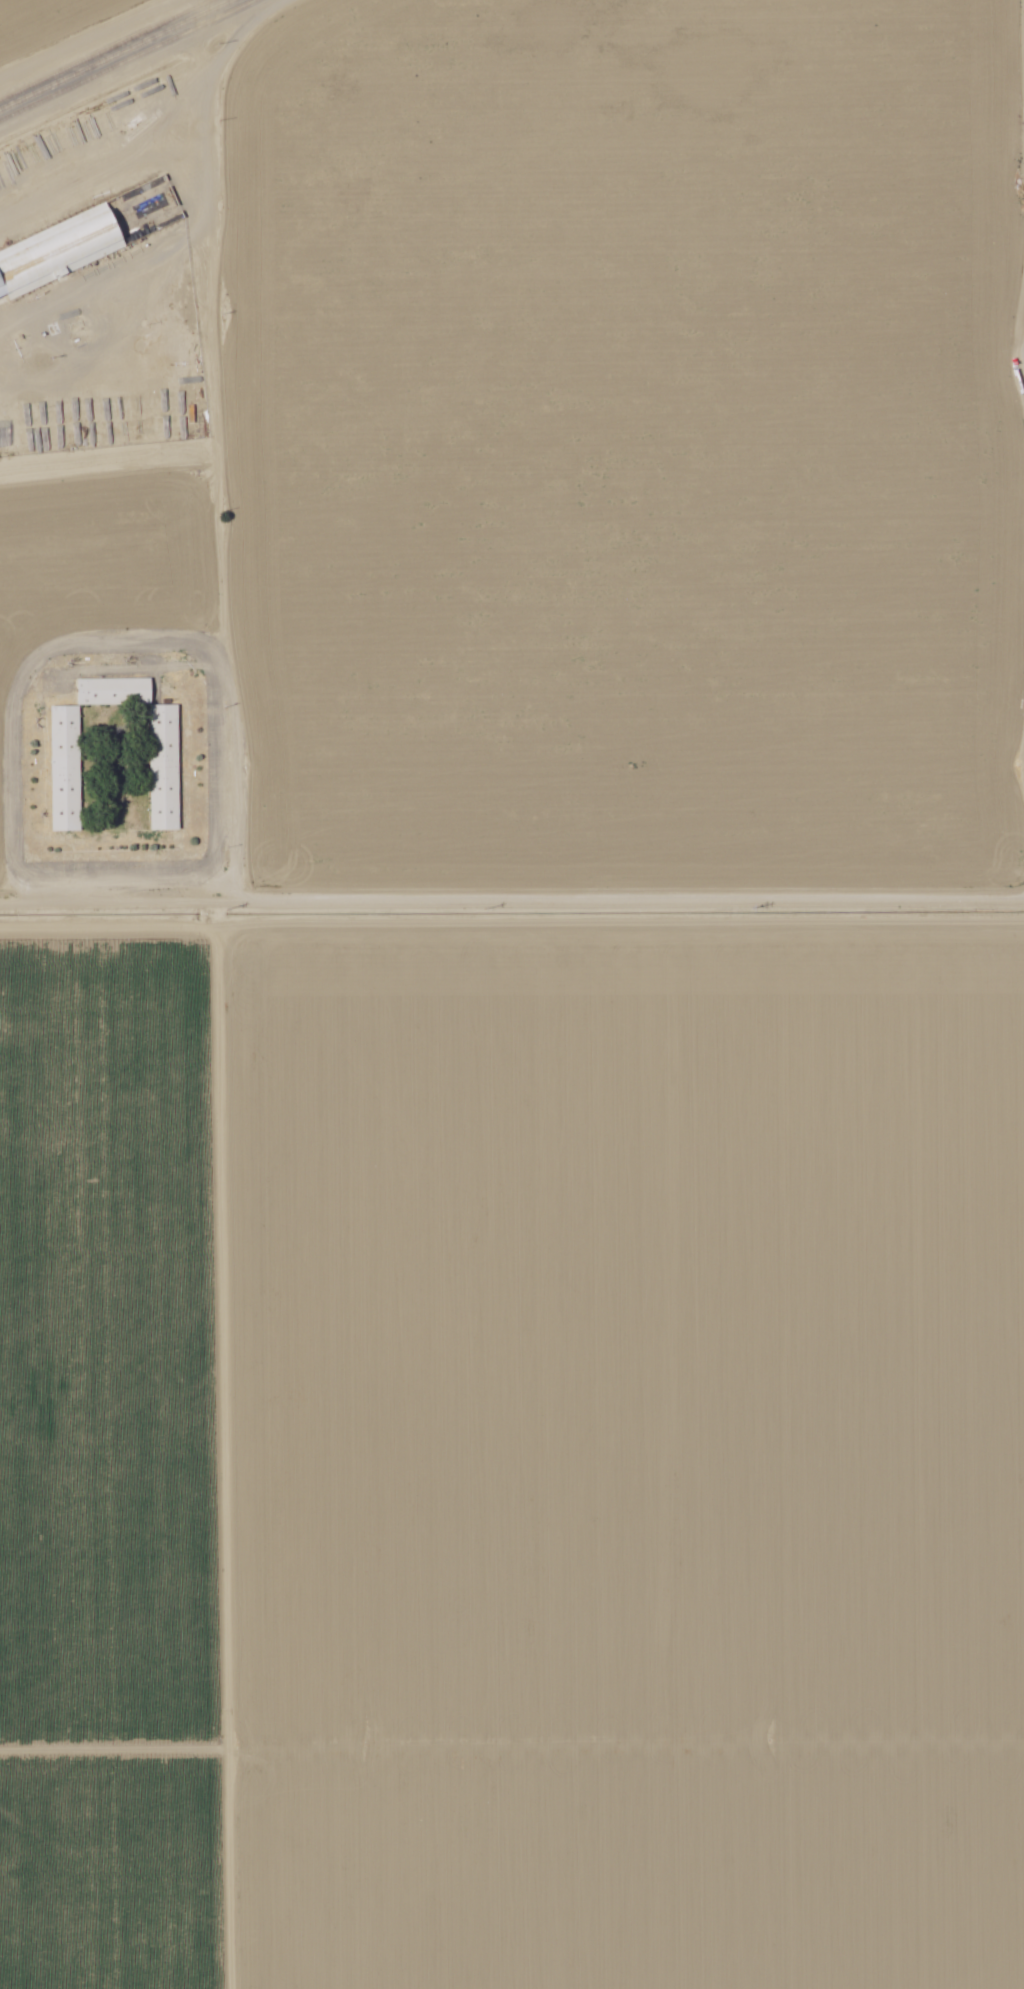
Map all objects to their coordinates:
road: (1023, 20)
crop: (76, 33)
railway: (107, 50)
road: (97, 52)
railway: (116, 55)
railway: (127, 60)
road: (1023, 157)
road: (1023, 159)
building: (55, 253)
building: (17, 414)
crop: (618, 438)
road: (216, 469)
crop: (106, 501)
road: (131, 641)
building: (109, 691)
building: (159, 768)
building: (62, 770)
road: (511, 904)
crop: (625, 1451)
crop: (112, 1460)

